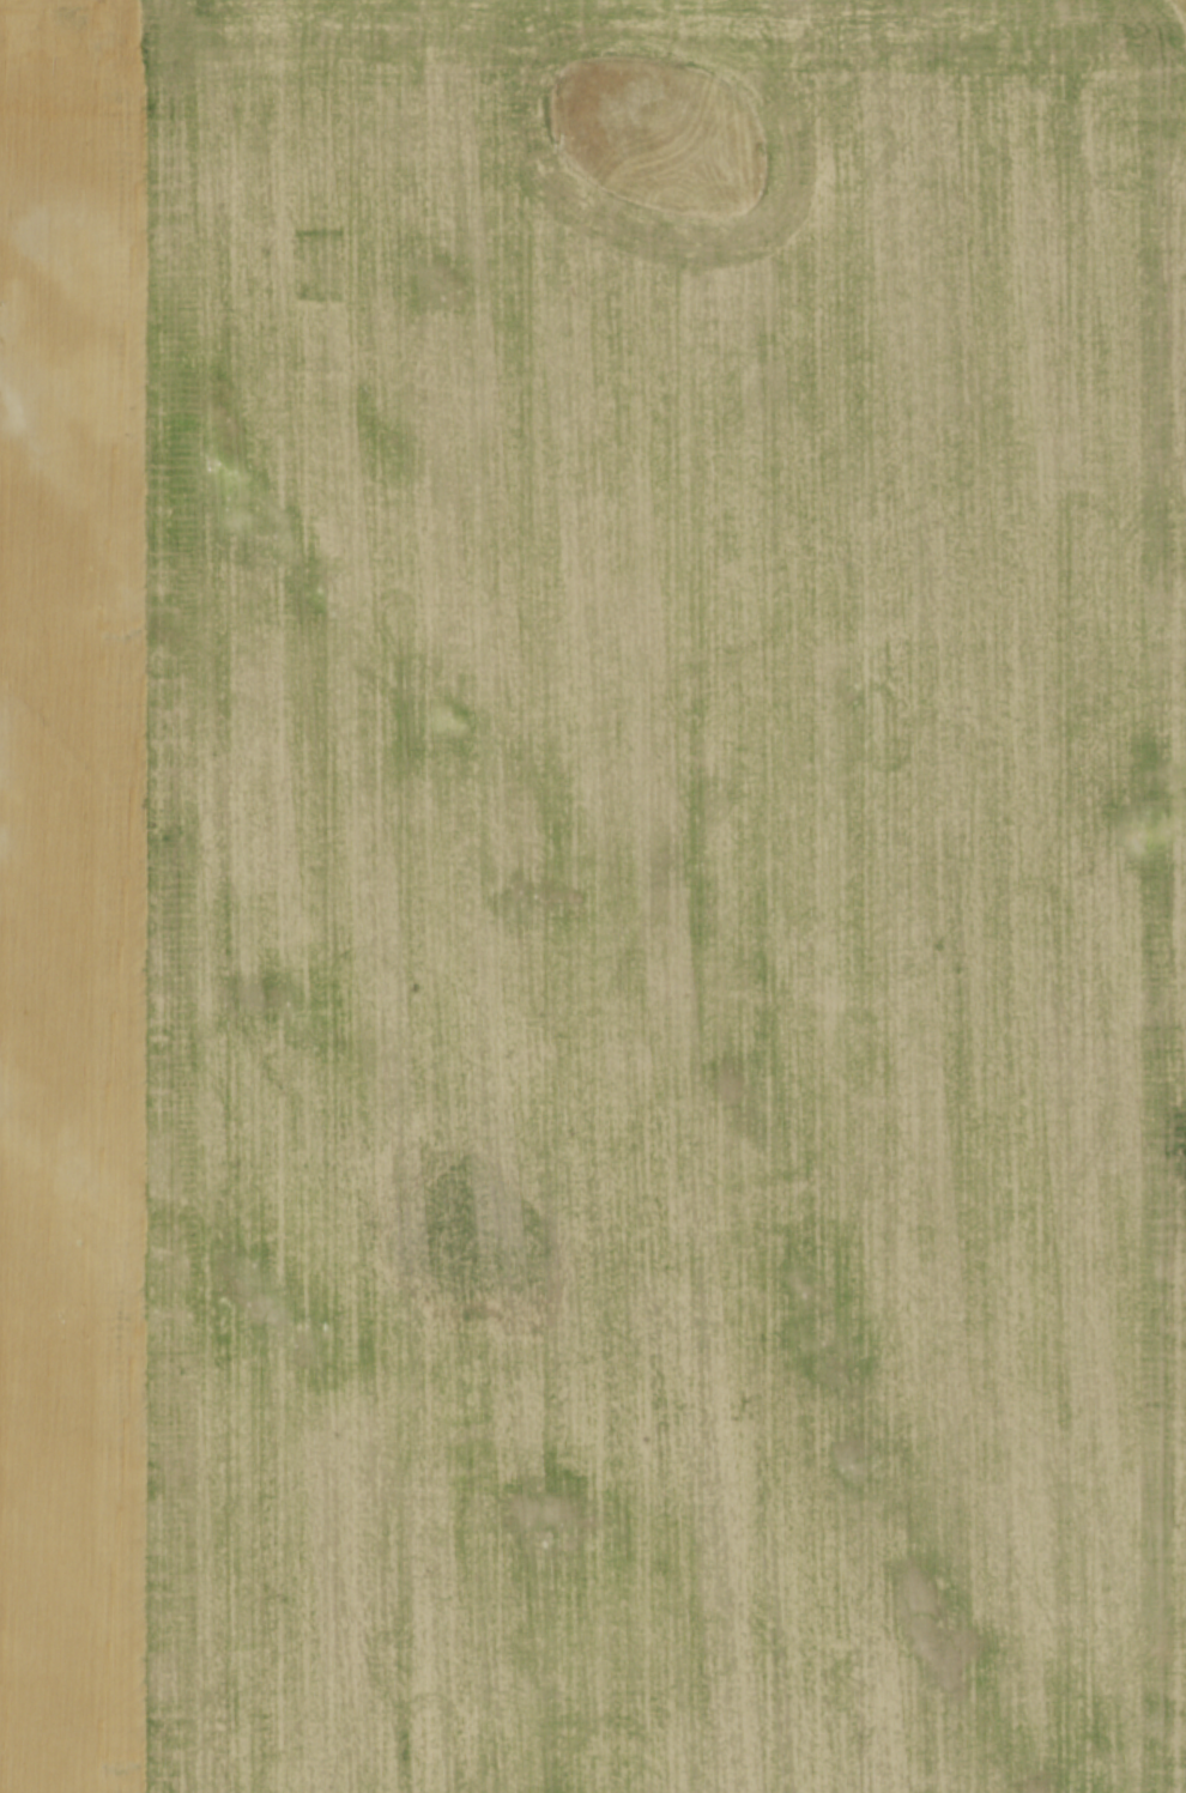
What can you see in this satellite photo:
crop: (592, 896)

